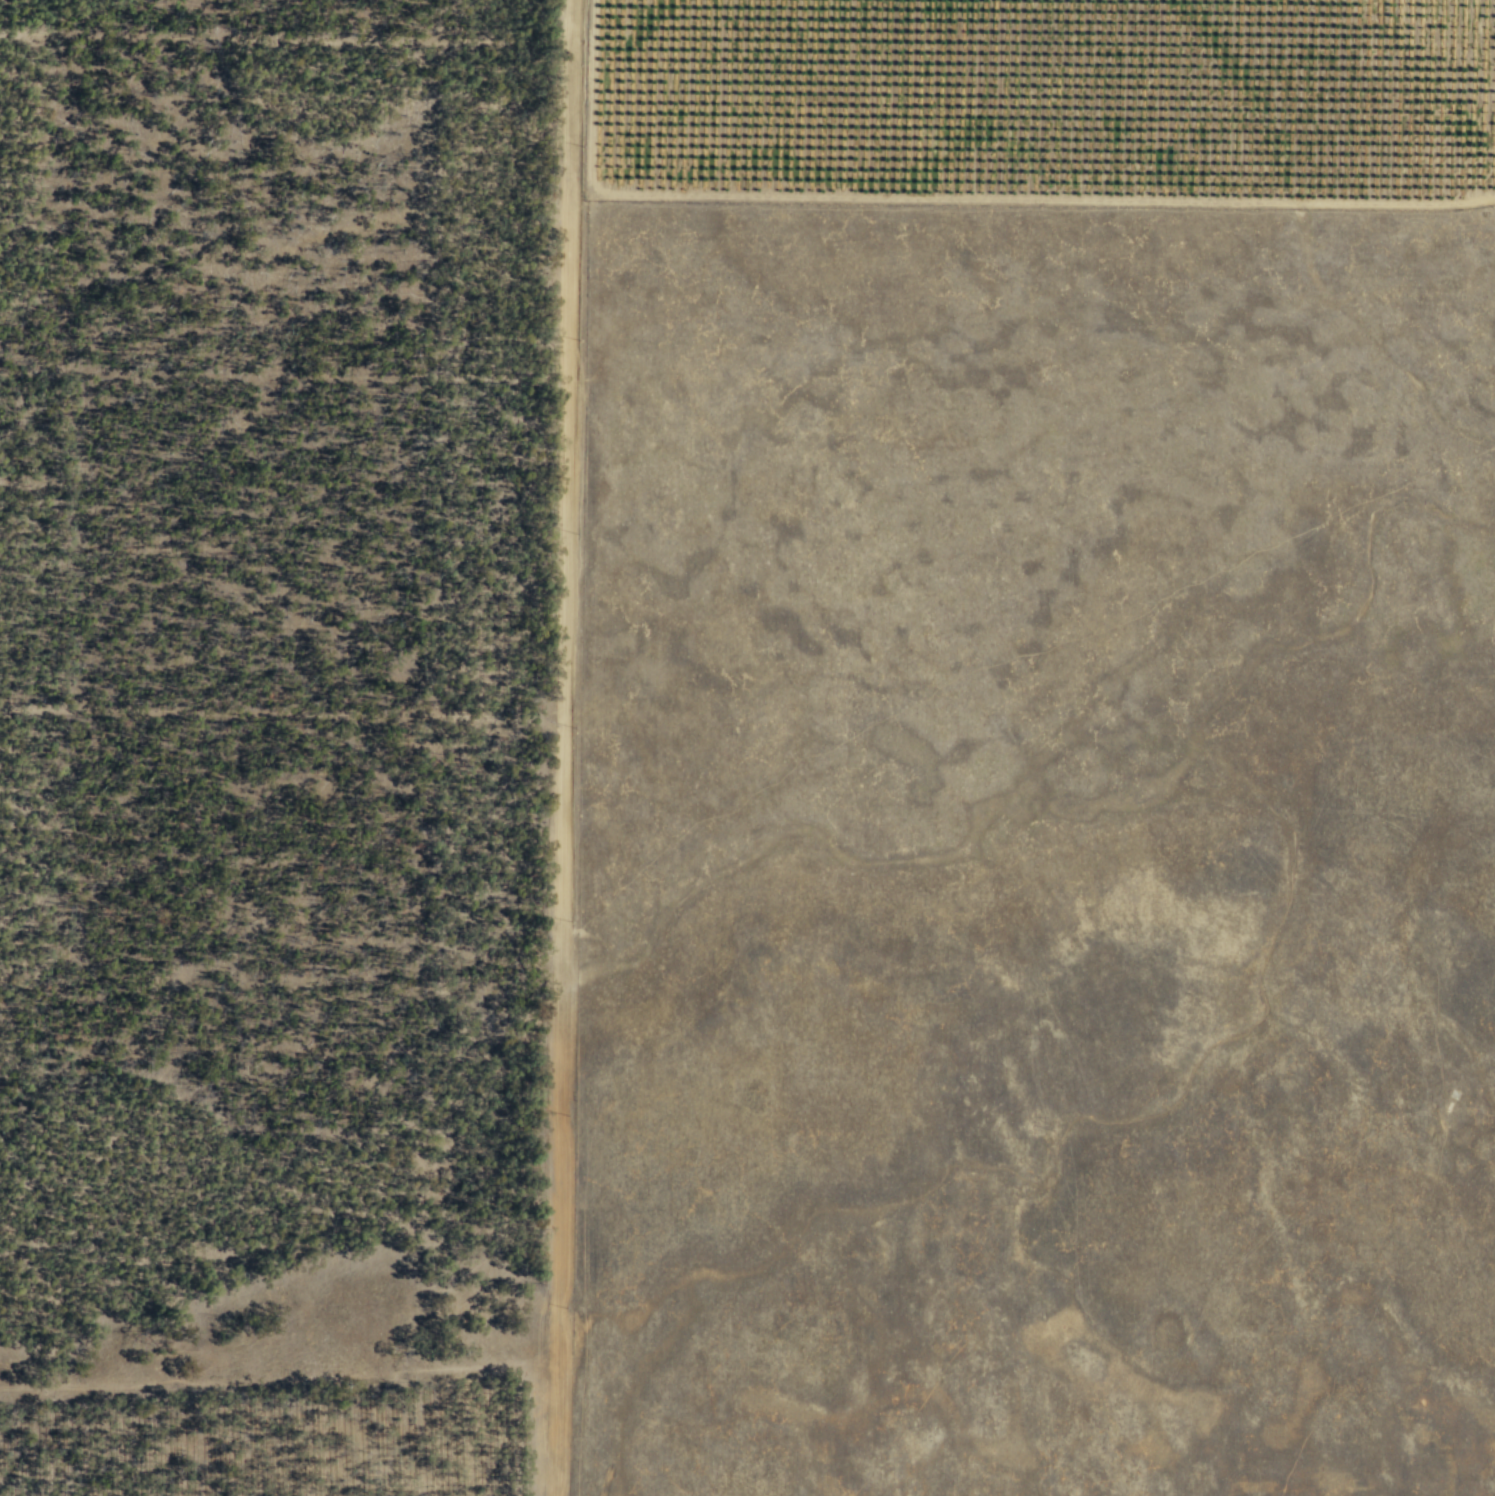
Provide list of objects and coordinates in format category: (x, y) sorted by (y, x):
road: (560, 959)
road: (584, 1286)
road: (557, 1426)

